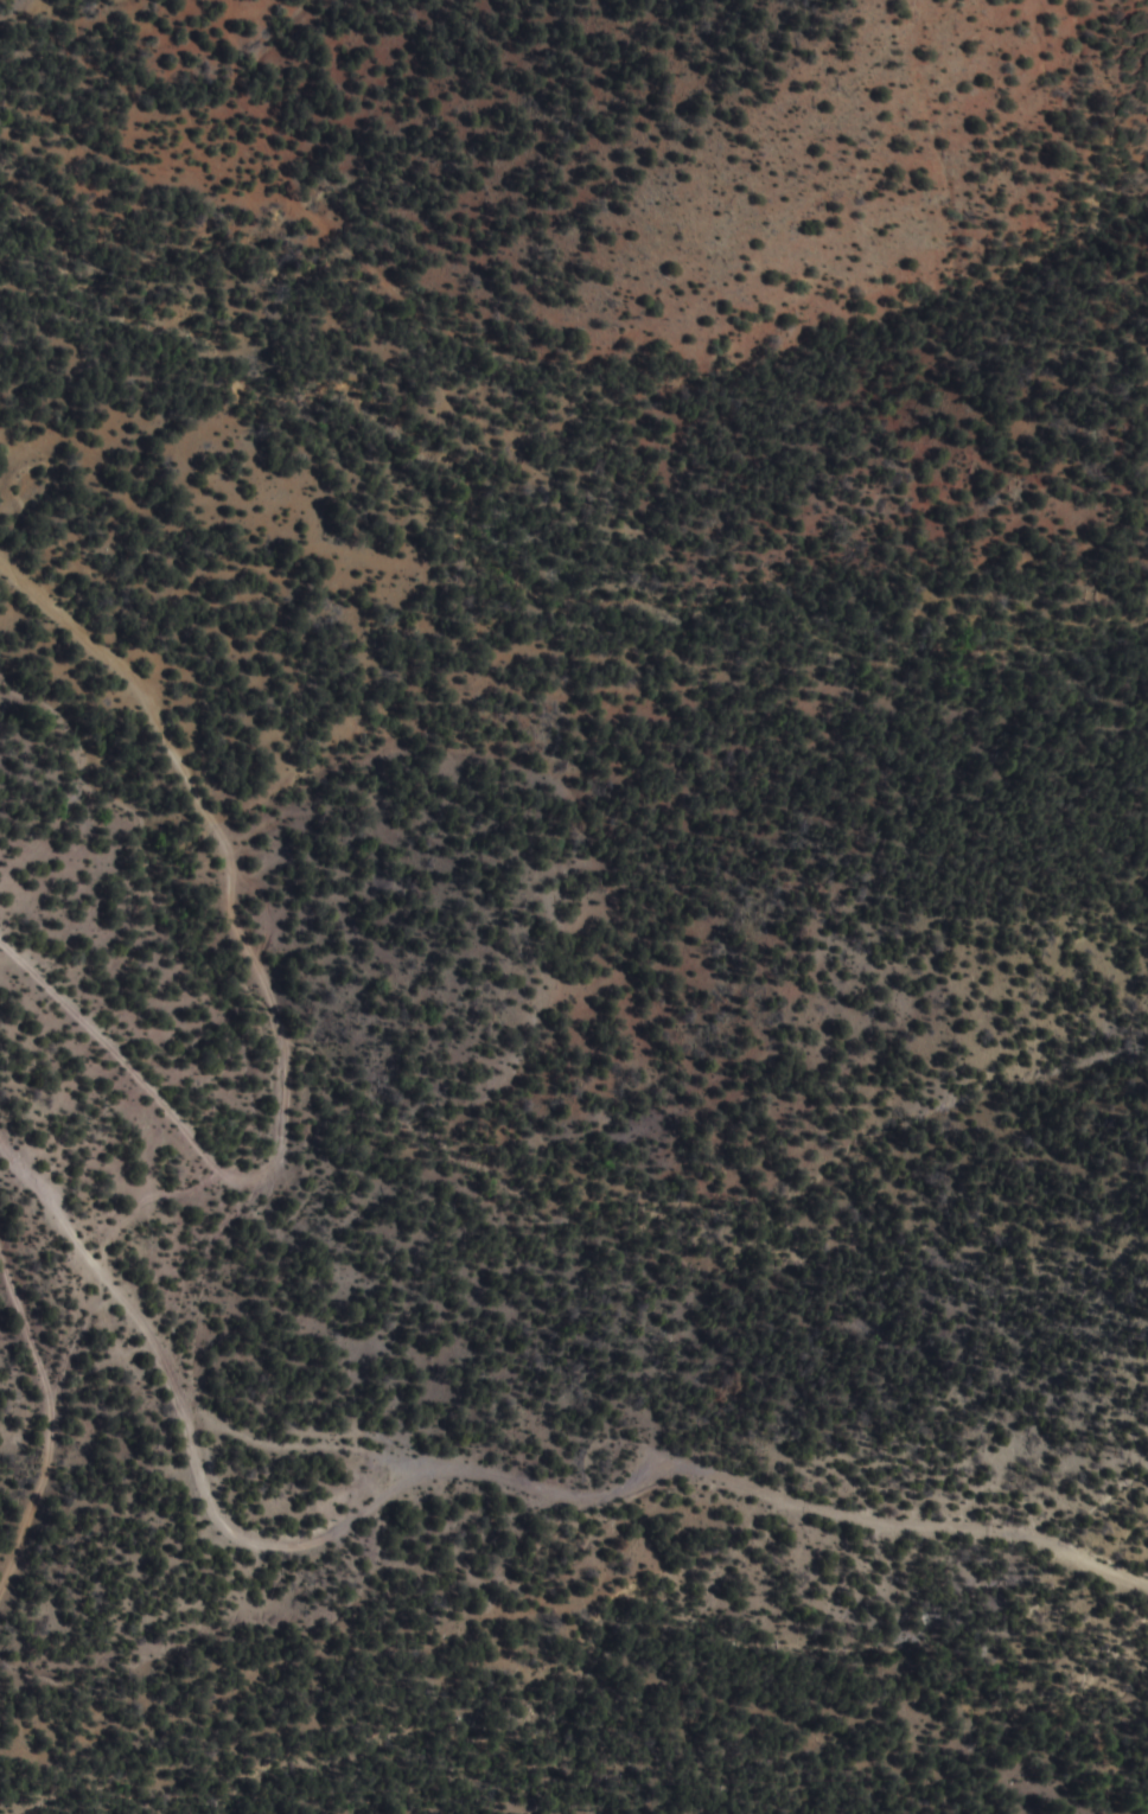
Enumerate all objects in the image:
road: (276, 1008)
road: (24, 1392)
road: (468, 1473)

